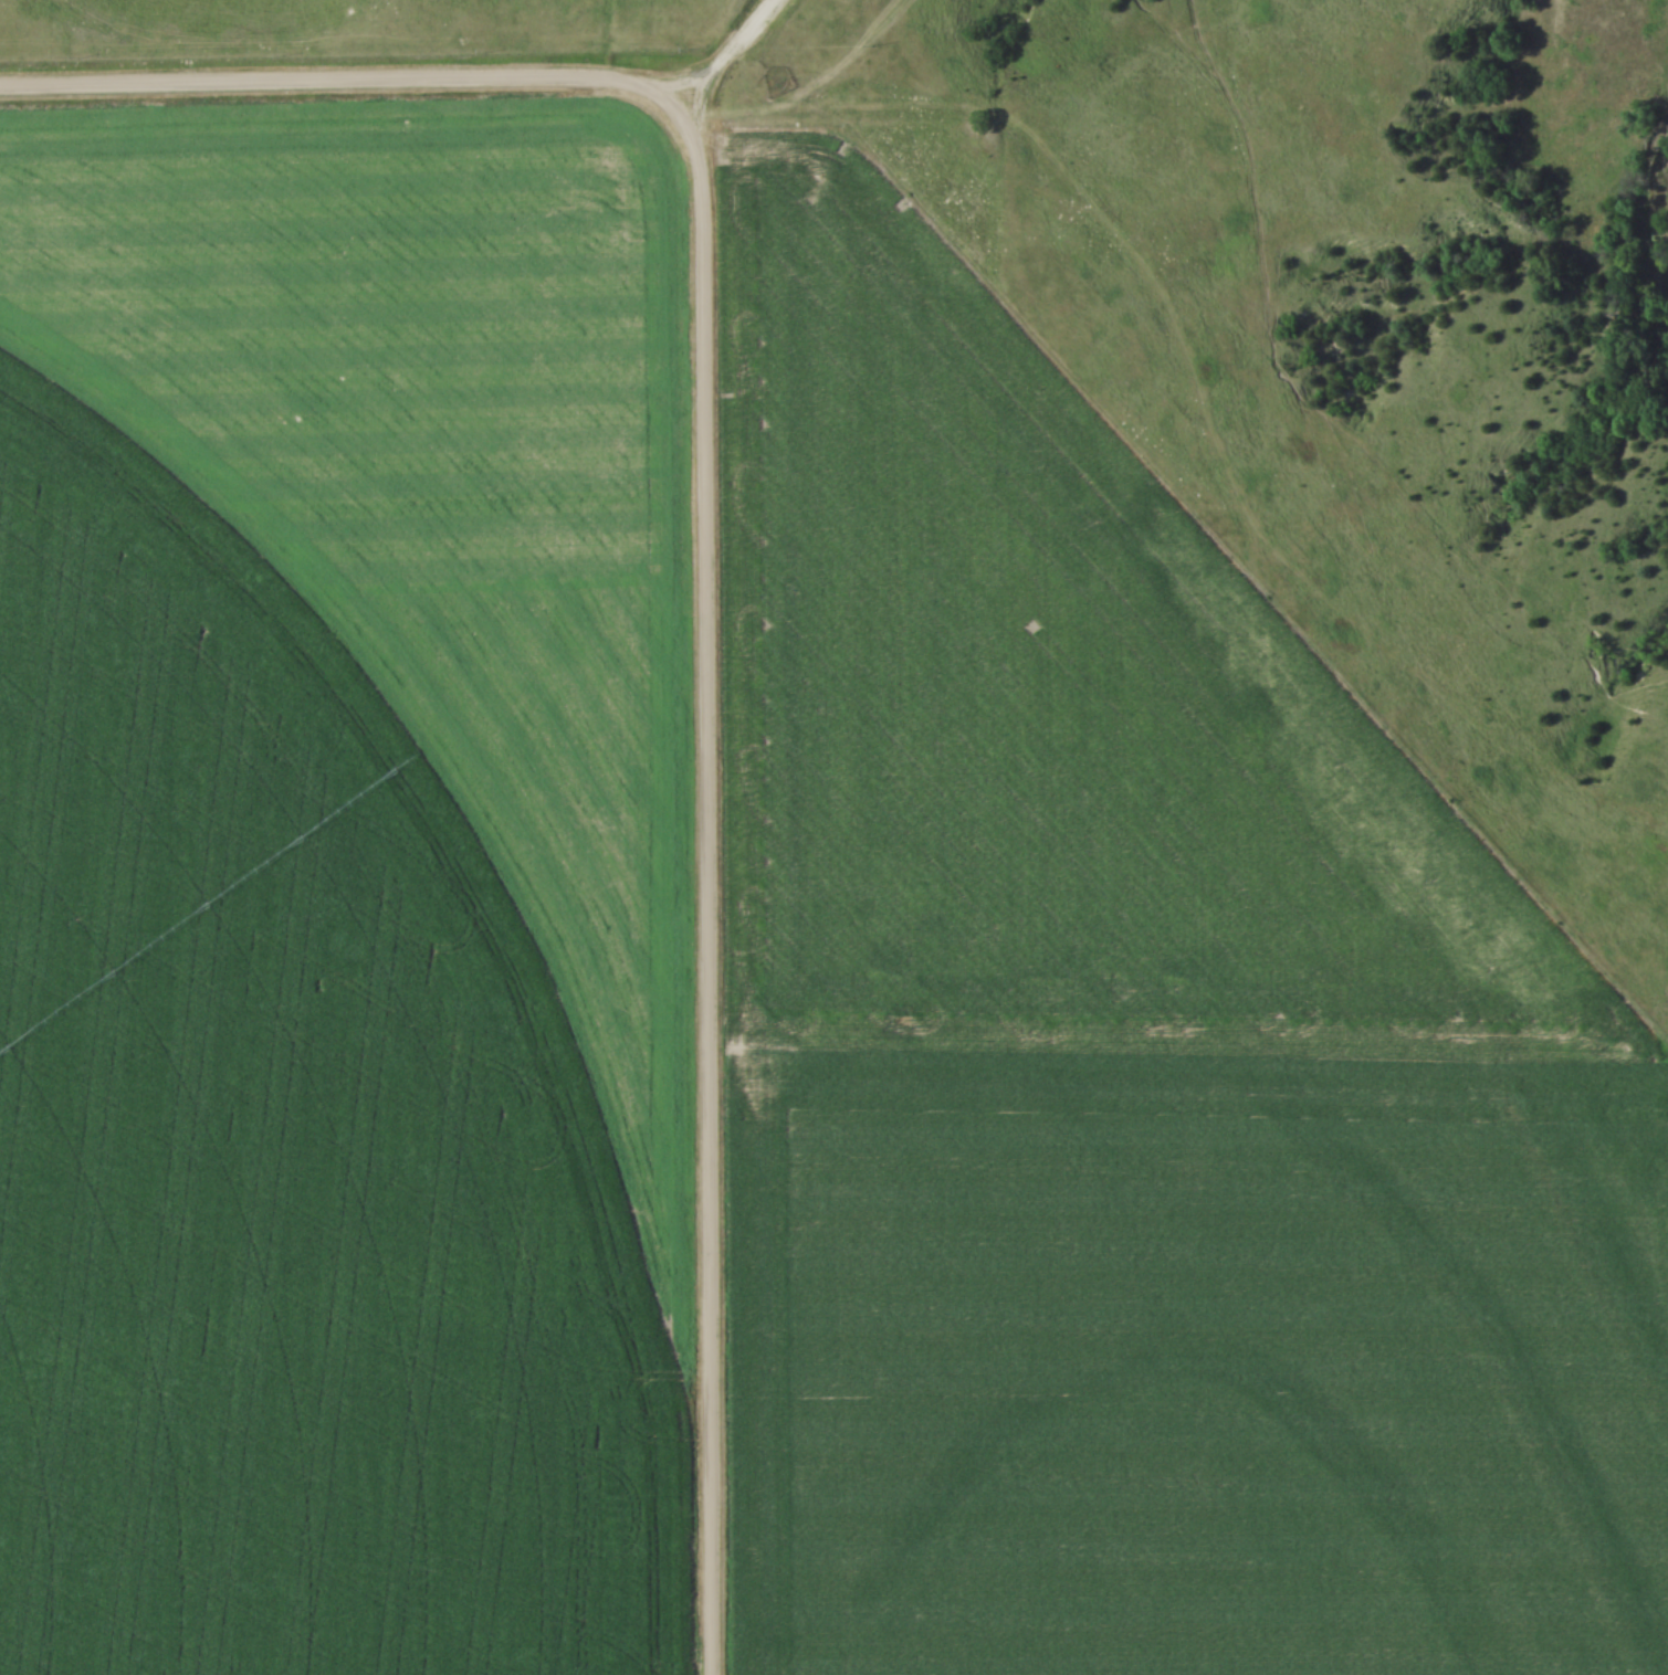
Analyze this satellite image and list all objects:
road: (345, 83)
crop: (429, 474)
crop: (1042, 705)
road: (706, 818)
crop: (283, 1156)
crop: (1195, 1363)

